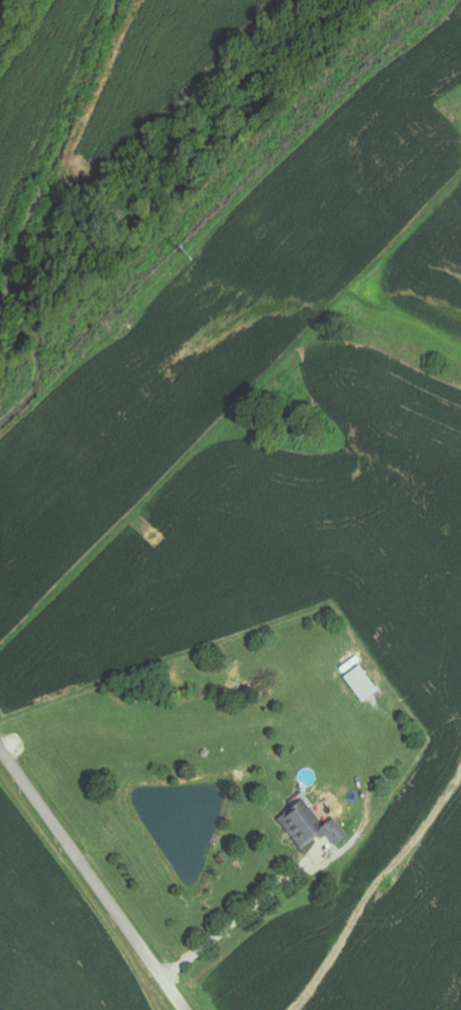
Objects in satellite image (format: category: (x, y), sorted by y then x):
building: (363, 684)
building: (310, 826)
road: (93, 878)

